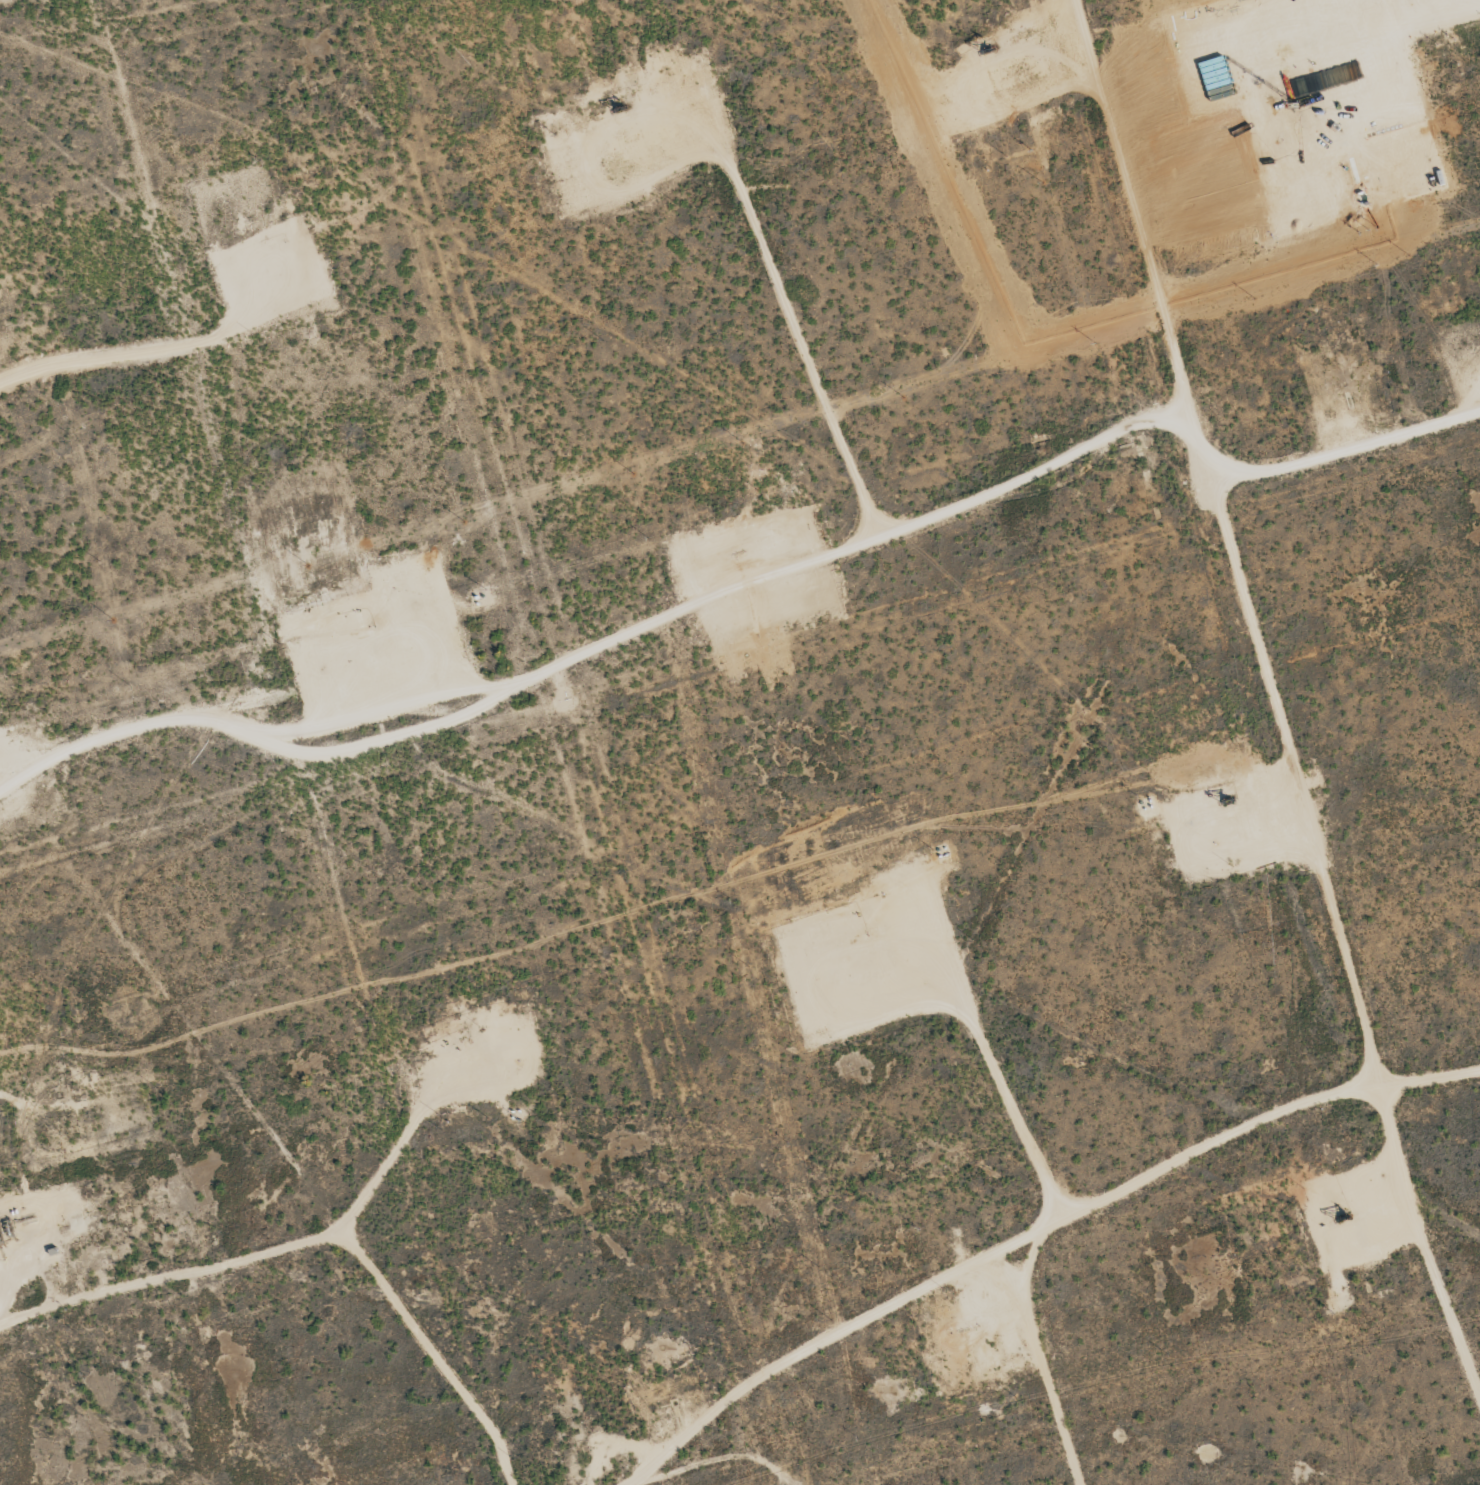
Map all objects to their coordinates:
road: (4, 1)
building: (1288, 175)
road: (1348, 446)
road: (1233, 547)
road: (602, 637)
road: (1033, 1234)
road: (316, 1241)

